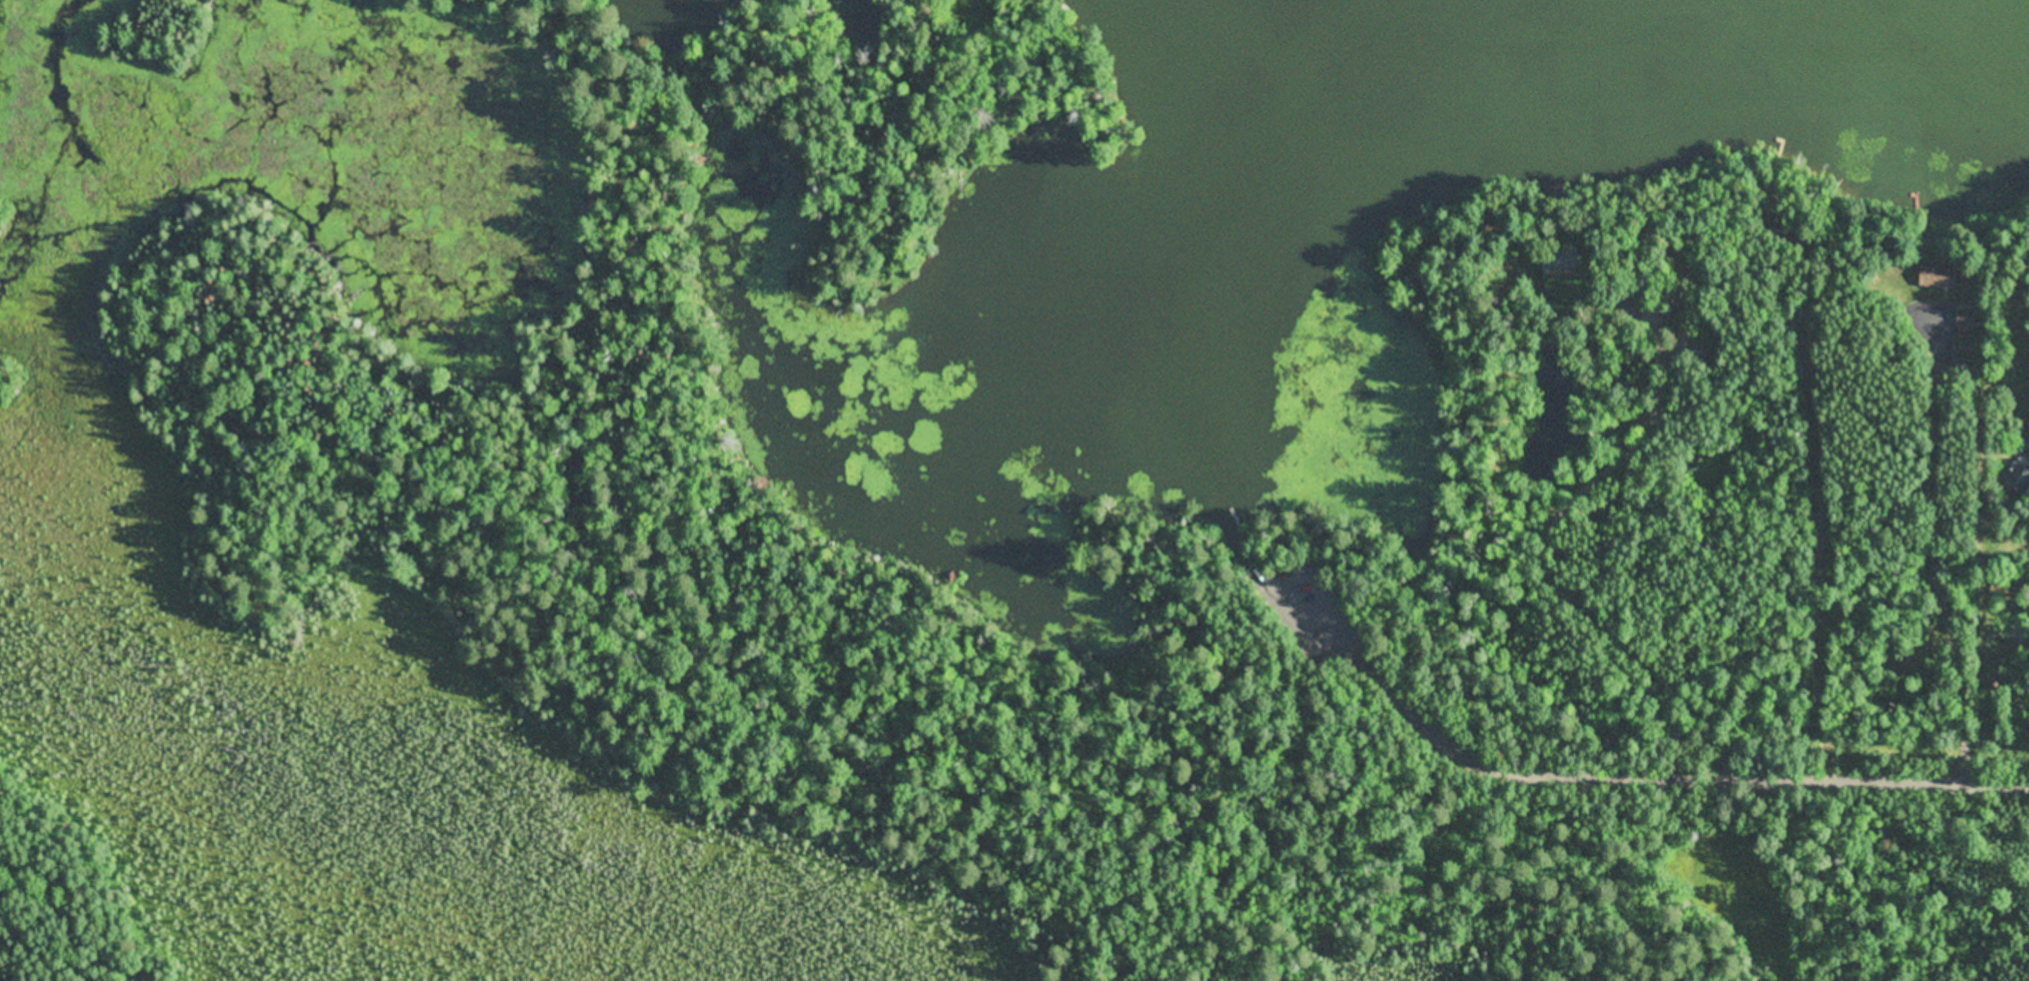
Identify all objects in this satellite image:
building: (1791, 237)
building: (1561, 258)
building: (1936, 277)
building: (1641, 279)
building: (1967, 324)
building: (1700, 357)
building: (1962, 358)
building: (1798, 364)
building: (2019, 477)
building: (2006, 511)
road: (1936, 552)
road: (1822, 555)
road: (1547, 564)
parking lot: (1309, 602)
building: (2014, 635)
road: (1325, 652)
road: (1669, 774)

